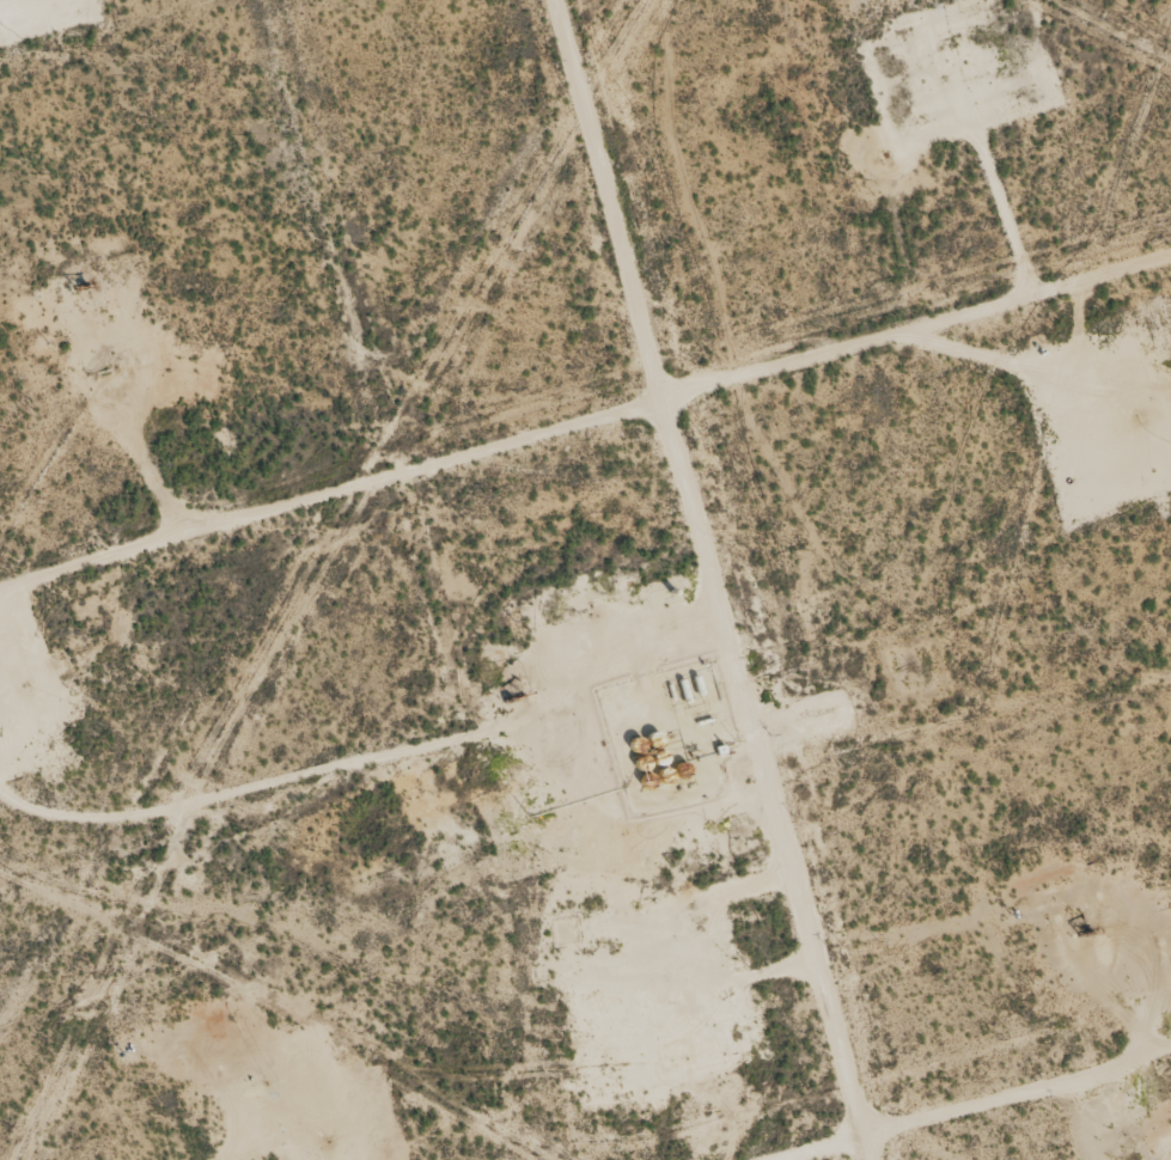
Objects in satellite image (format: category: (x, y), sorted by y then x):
road: (586, 444)
road: (647, 579)
road: (1027, 1117)

